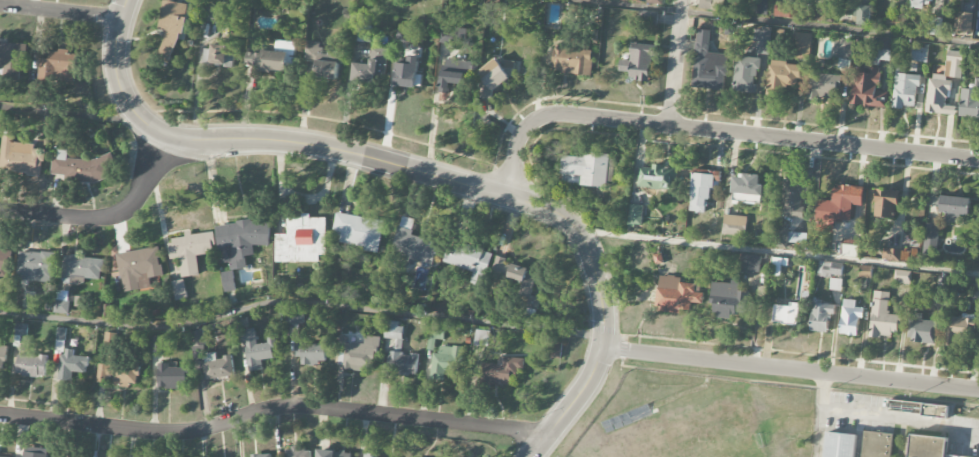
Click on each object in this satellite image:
building: (656, 2)
building: (921, 3)
building: (711, 5)
building: (785, 9)
road: (60, 13)
building: (822, 14)
building: (211, 15)
building: (863, 15)
building: (960, 16)
building: (648, 18)
road: (774, 22)
building: (895, 23)
building: (171, 29)
building: (363, 34)
building: (405, 37)
building: (762, 41)
building: (802, 44)
building: (842, 49)
building: (880, 50)
building: (919, 54)
building: (218, 55)
building: (274, 58)
building: (12, 61)
building: (323, 61)
building: (572, 61)
building: (638, 62)
road: (675, 62)
building: (709, 65)
building: (59, 67)
building: (369, 67)
building: (406, 73)
building: (453, 74)
building: (745, 74)
building: (782, 77)
building: (492, 78)
building: (943, 85)
building: (823, 86)
building: (867, 87)
building: (905, 91)
building: (969, 104)
road: (69, 116)
road: (714, 131)
building: (20, 157)
building: (81, 168)
building: (588, 169)
road: (423, 173)
building: (657, 177)
building: (747, 188)
building: (700, 192)
building: (792, 198)
building: (933, 201)
building: (839, 204)
building: (886, 204)
building: (954, 208)
building: (635, 215)
road: (106, 216)
building: (734, 226)
building: (358, 231)
building: (781, 238)
building: (930, 239)
building: (301, 240)
building: (240, 241)
building: (411, 248)
building: (849, 250)
building: (191, 251)
road: (778, 252)
building: (891, 255)
building: (469, 261)
building: (750, 263)
building: (36, 264)
building: (2, 265)
building: (978, 266)
building: (139, 268)
building: (81, 269)
building: (832, 273)
building: (902, 277)
building: (228, 281)
building: (520, 281)
building: (835, 284)
building: (179, 290)
building: (62, 295)
building: (677, 295)
building: (728, 300)
road: (301, 302)
building: (61, 307)
building: (786, 314)
building: (821, 316)
building: (882, 316)
building: (850, 318)
building: (294, 322)
building: (21, 329)
building: (921, 330)
building: (962, 330)
building: (477, 337)
building: (197, 339)
building: (60, 340)
building: (157, 344)
building: (257, 350)
building: (310, 353)
building: (357, 353)
building: (2, 358)
building: (446, 362)
building: (402, 363)
building: (32, 365)
building: (72, 366)
building: (219, 368)
road: (790, 369)
building: (501, 371)
building: (117, 375)
building: (171, 376)
road: (273, 407)
building: (935, 411)
road: (883, 416)
park: (691, 436)
building: (876, 444)
building: (839, 445)
building: (927, 446)
building: (298, 452)
building: (35, 453)
building: (333, 454)
building: (370, 455)
building: (258, 456)
building: (952, 456)

